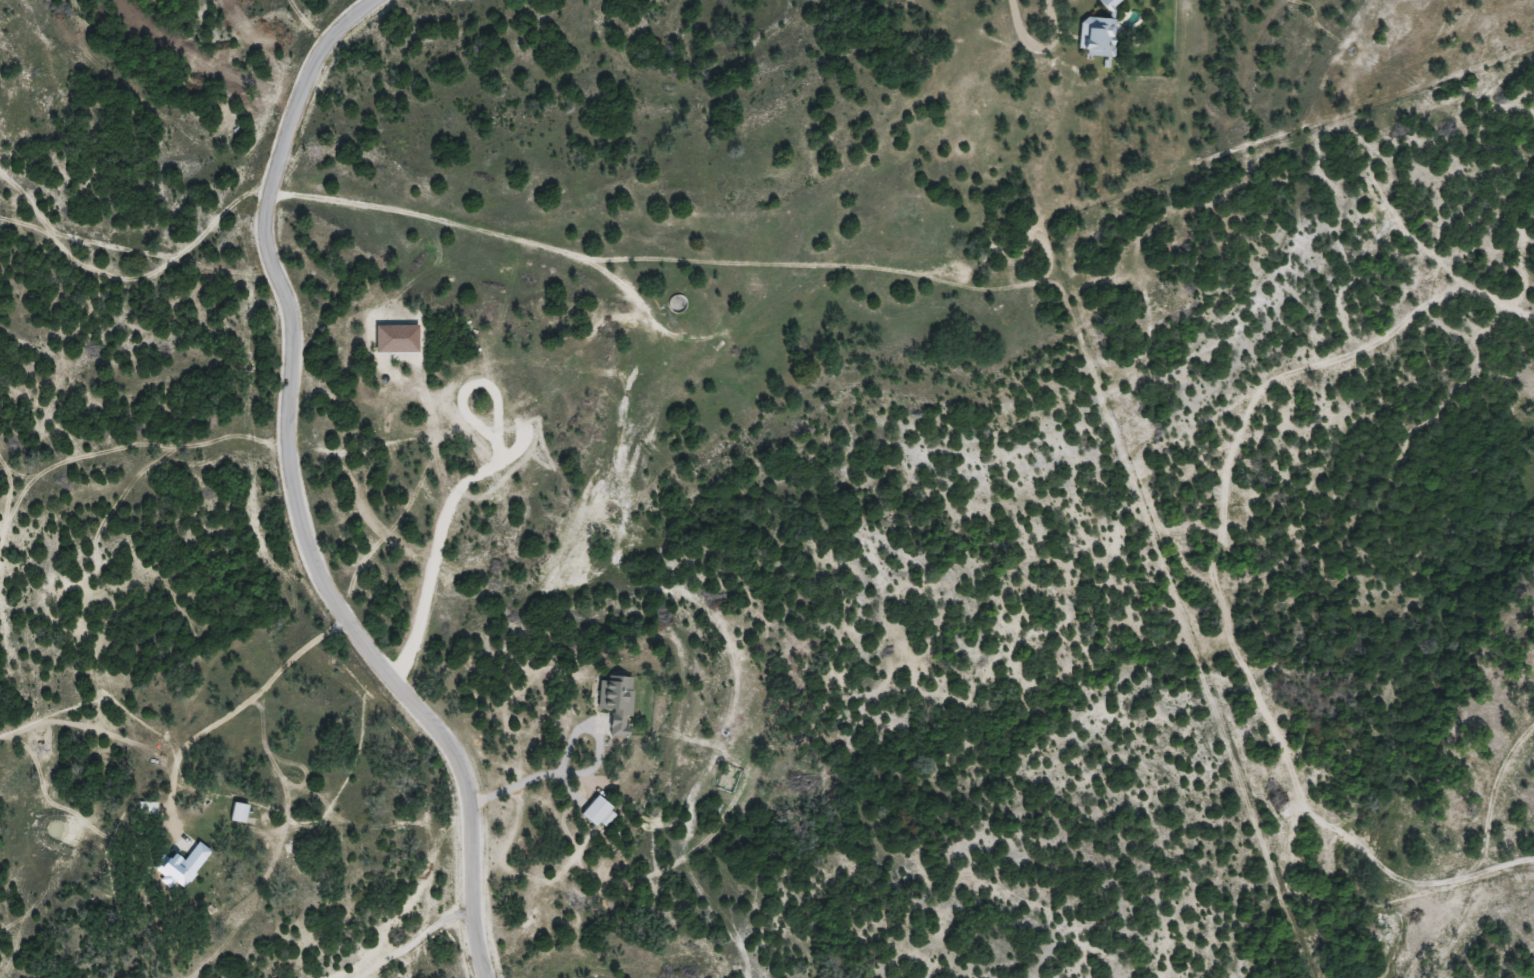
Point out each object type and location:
building: (1111, 3)
road: (1010, 30)
building: (1098, 36)
road: (295, 496)
road: (231, 709)
road: (404, 896)
road: (415, 941)

